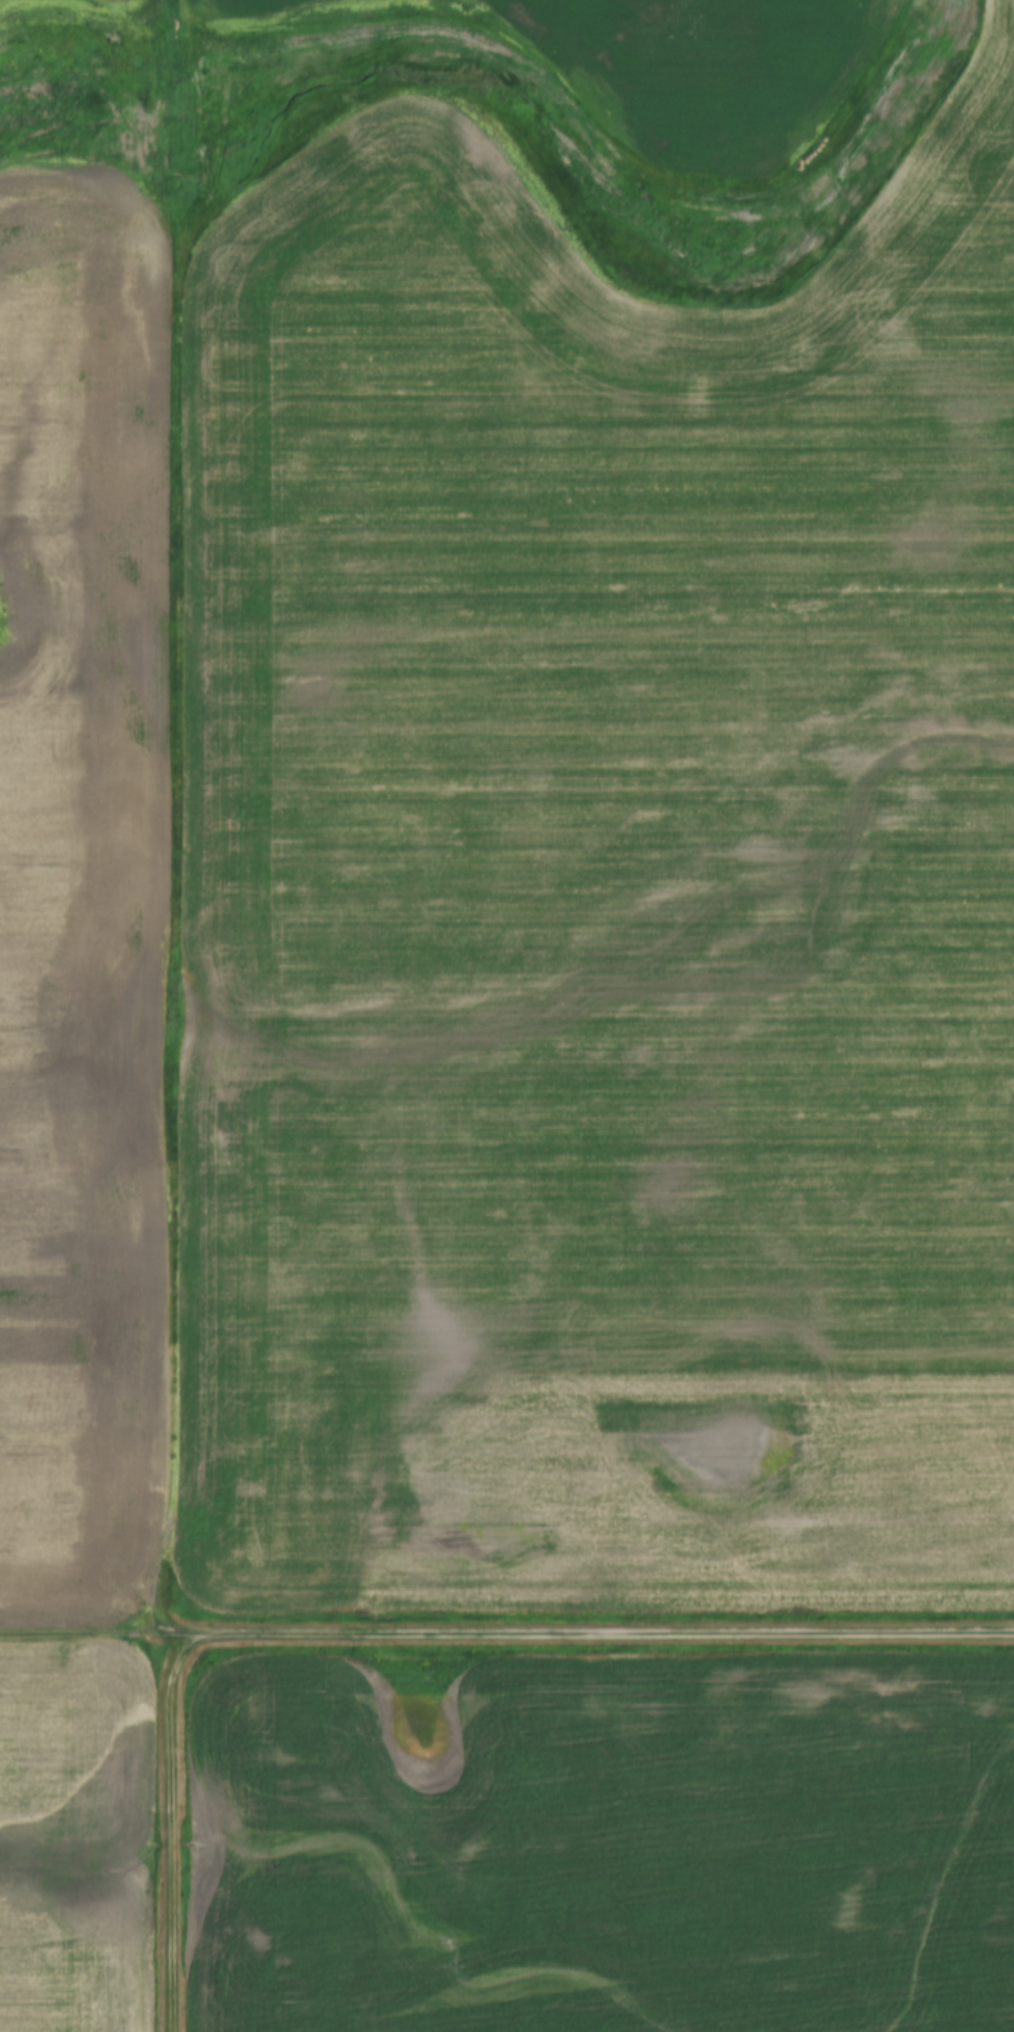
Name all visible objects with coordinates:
road: (506, 1636)
road: (173, 1833)

